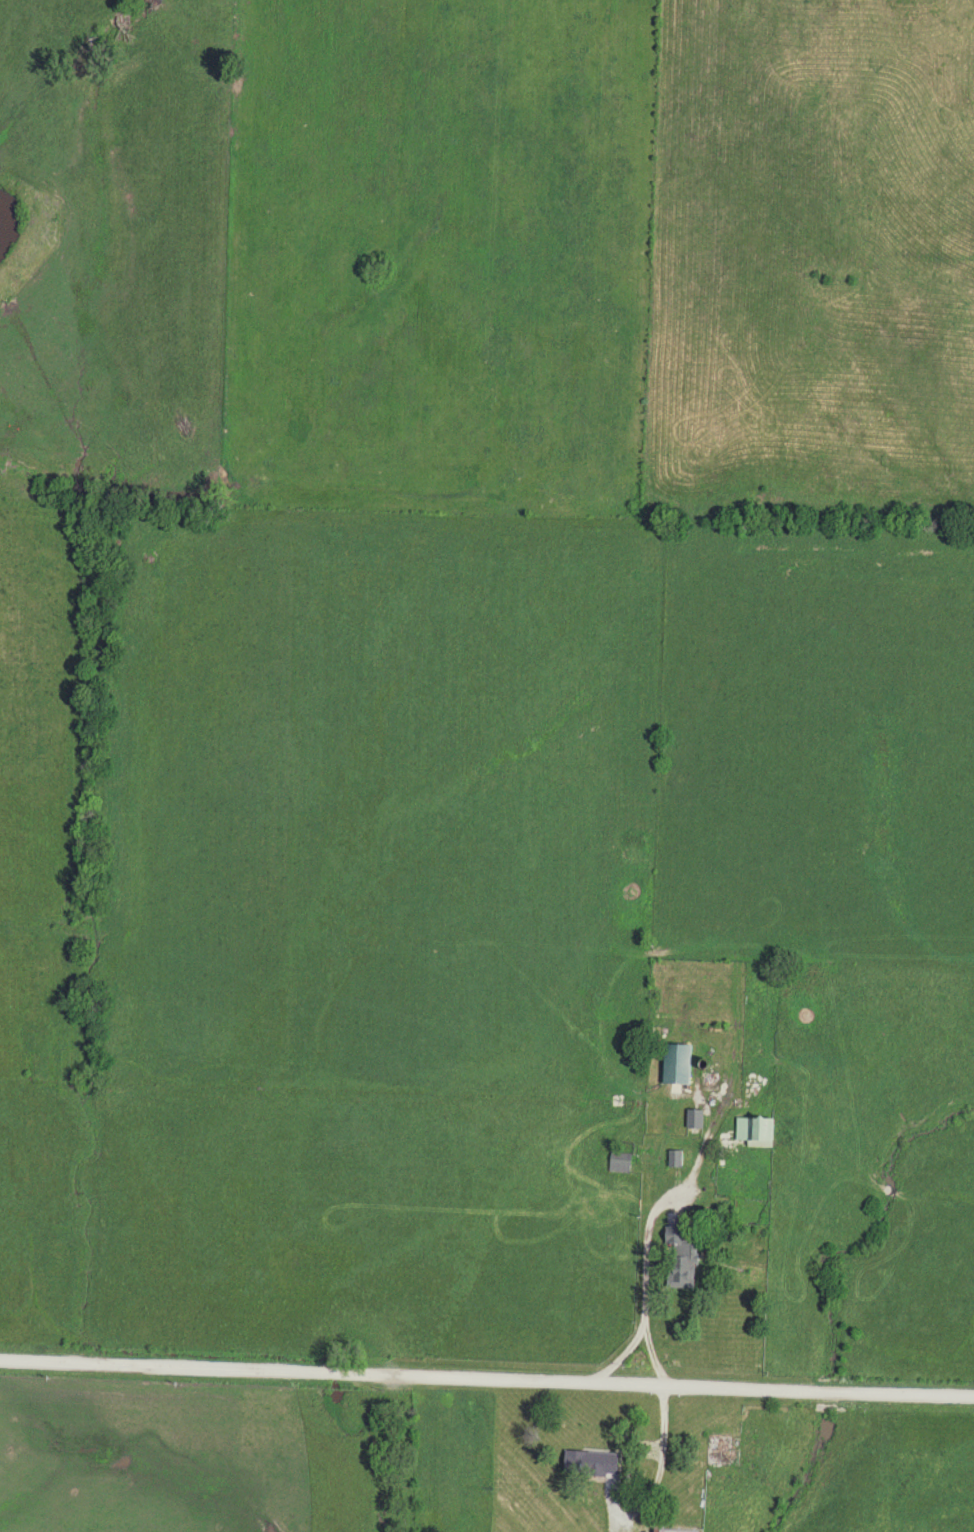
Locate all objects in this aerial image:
building: (672, 1063)
building: (691, 1118)
building: (751, 1130)
building: (617, 1161)
road: (662, 1191)
building: (676, 1260)
road: (611, 1349)
road: (487, 1372)
building: (720, 1452)
building: (582, 1463)

